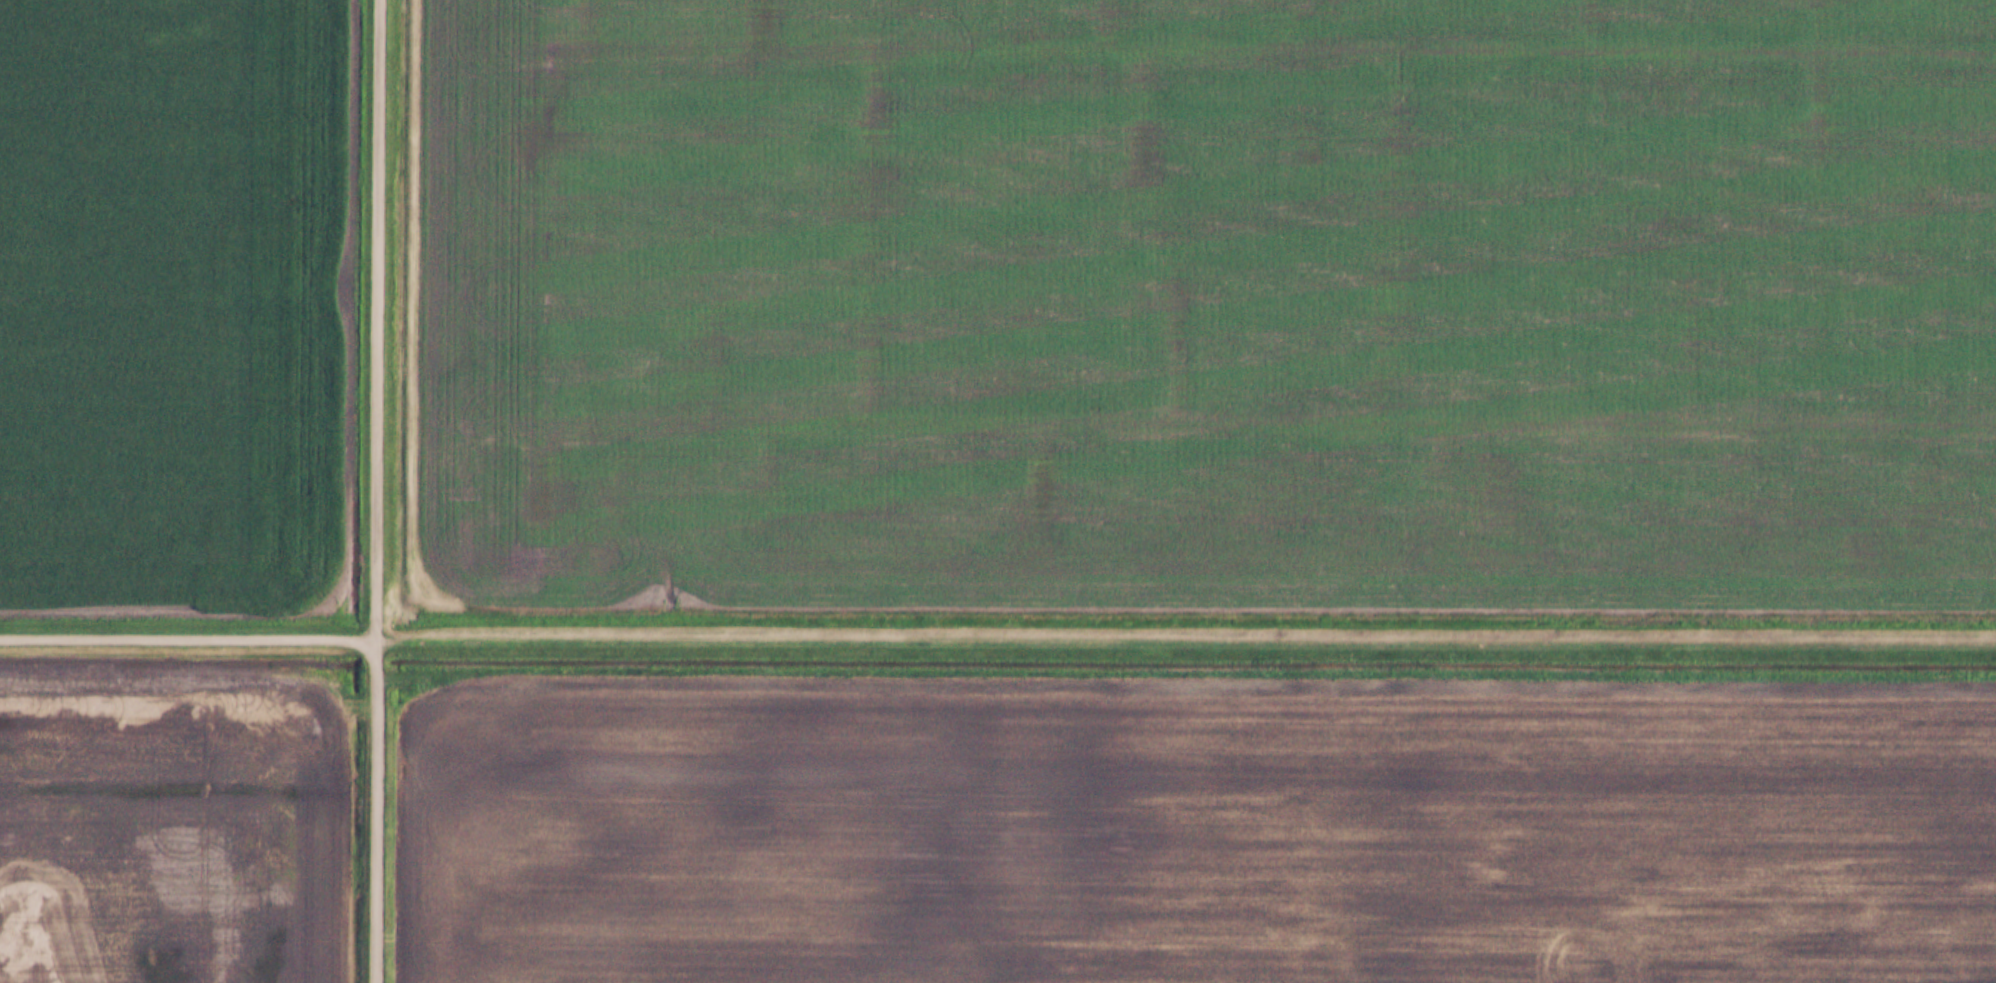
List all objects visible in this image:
road: (374, 319)
road: (186, 638)
road: (1183, 643)
road: (371, 811)

